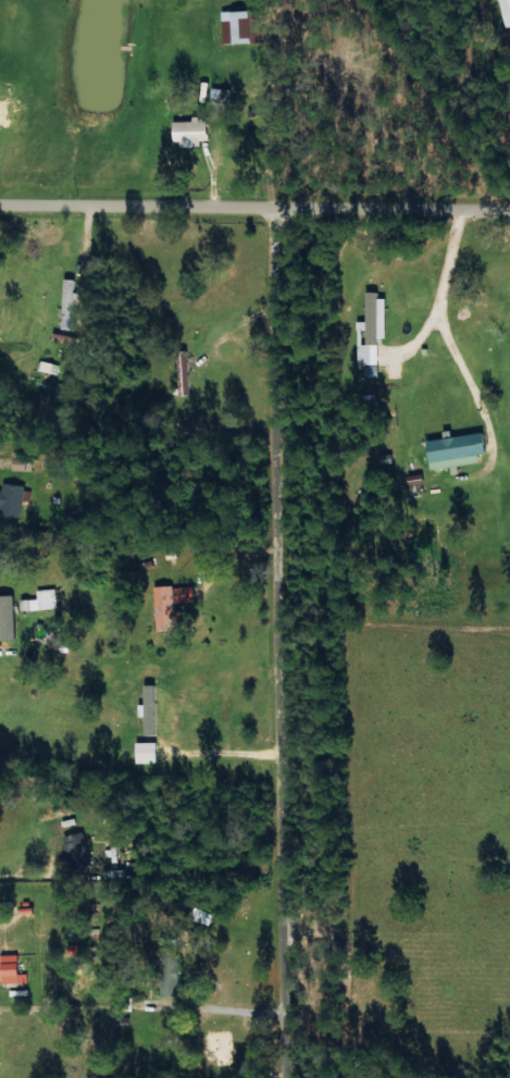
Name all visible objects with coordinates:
building: (498, 0)
building: (505, 11)
building: (233, 25)
building: (187, 131)
road: (254, 233)
building: (65, 303)
building: (370, 329)
building: (181, 372)
building: (453, 449)
building: (12, 499)
building: (181, 594)
building: (40, 599)
building: (162, 607)
building: (5, 617)
road: (276, 656)
building: (75, 850)
building: (10, 970)
building: (167, 972)
building: (215, 1048)

